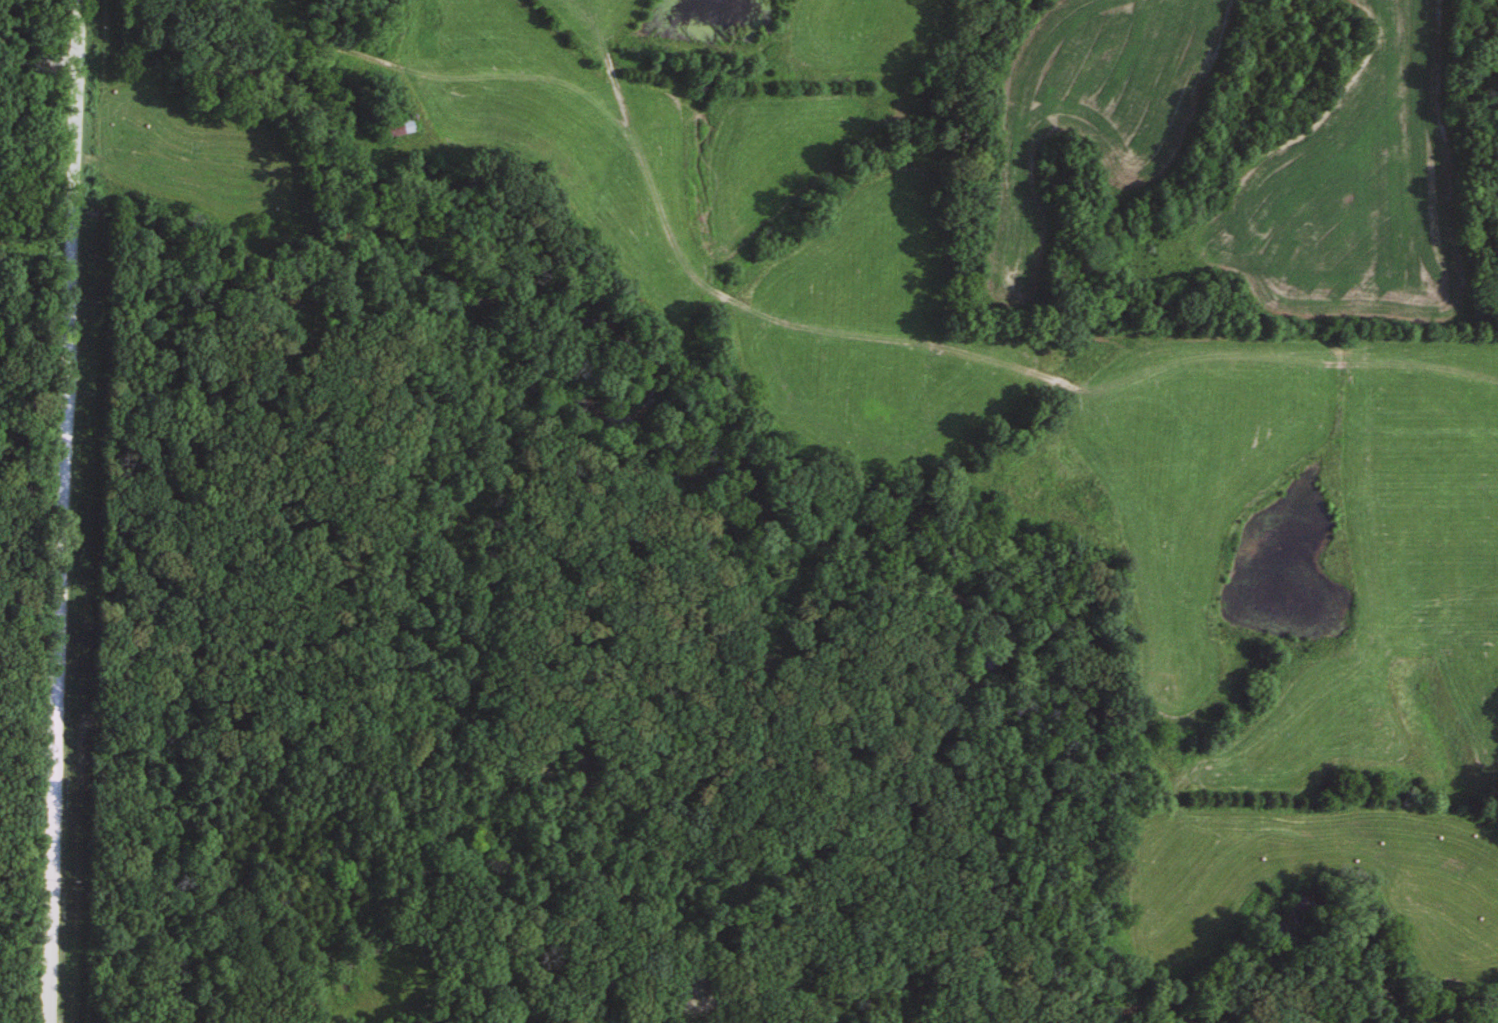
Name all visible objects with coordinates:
road: (36, 245)
road: (63, 511)

